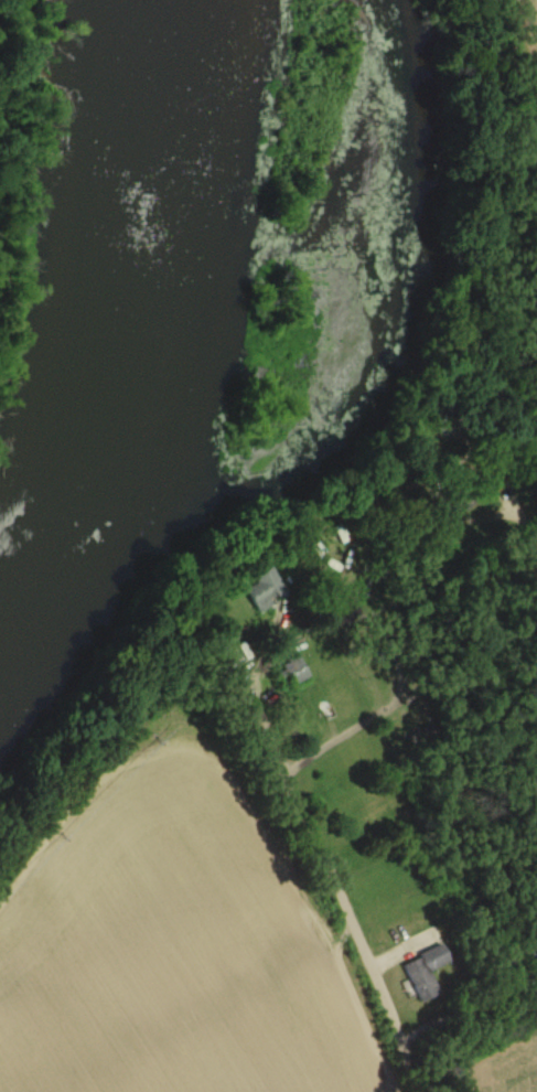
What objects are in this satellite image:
river: (135, 352)
road: (508, 532)
building: (264, 589)
building: (291, 672)
road: (342, 697)
road: (354, 930)
building: (423, 973)
road: (472, 1007)

